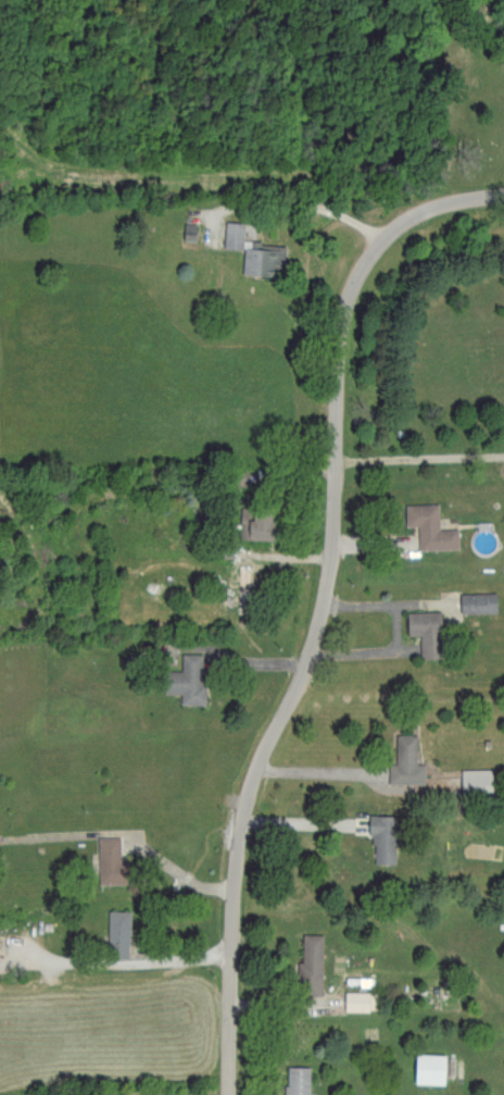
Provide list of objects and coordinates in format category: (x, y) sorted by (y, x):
road: (307, 203)
building: (231, 235)
building: (260, 259)
road: (420, 453)
building: (428, 526)
building: (252, 527)
building: (476, 601)
road: (325, 612)
building: (423, 631)
road: (401, 633)
building: (184, 679)
building: (403, 761)
road: (315, 769)
building: (474, 781)
road: (299, 820)
building: (381, 838)
building: (108, 860)
road: (193, 878)
building: (116, 933)
road: (114, 959)
building: (307, 965)
building: (354, 1000)
building: (426, 1067)
building: (294, 1080)

